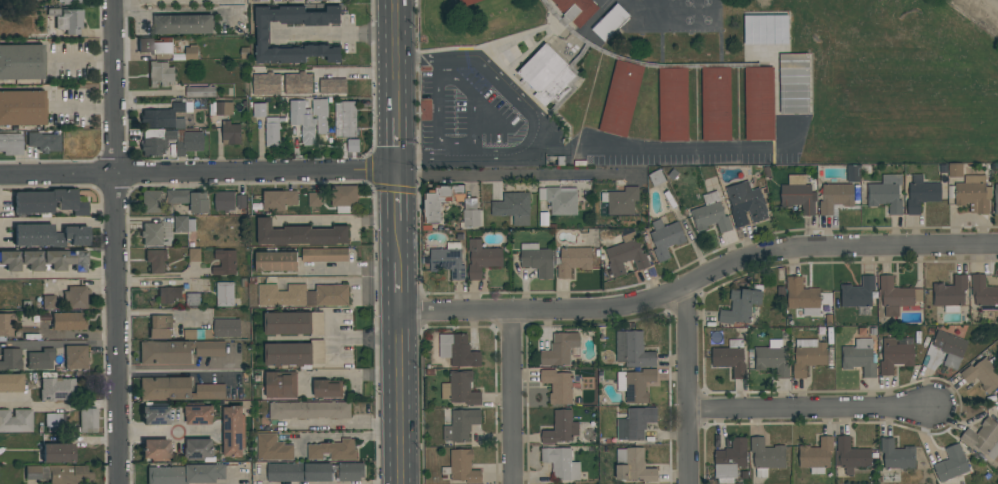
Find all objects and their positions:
road: (169, 0)
building: (259, 0)
building: (287, 0)
building: (318, 0)
building: (71, 2)
building: (467, 2)
building: (576, 10)
road: (181, 12)
building: (67, 20)
building: (183, 24)
road: (384, 30)
building: (766, 30)
road: (328, 33)
building: (263, 35)
building: (155, 45)
building: (191, 52)
road: (81, 59)
road: (395, 60)
building: (21, 62)
building: (160, 74)
building: (546, 74)
building: (266, 84)
building: (298, 84)
building: (793, 84)
building: (332, 86)
road: (406, 88)
building: (200, 92)
building: (621, 98)
building: (759, 103)
building: (672, 104)
building: (716, 104)
road: (82, 106)
building: (21, 107)
building: (221, 109)
building: (259, 110)
building: (165, 116)
road: (385, 116)
road: (538, 116)
building: (309, 118)
building: (345, 119)
building: (231, 133)
building: (272, 133)
building: (42, 141)
building: (156, 141)
building: (188, 142)
building: (10, 144)
building: (353, 145)
road: (663, 147)
building: (955, 170)
building: (852, 173)
road: (193, 174)
road: (397, 174)
road: (526, 176)
building: (886, 193)
building: (798, 194)
building: (921, 194)
building: (973, 194)
road: (407, 196)
building: (343, 197)
building: (835, 197)
building: (189, 199)
building: (996, 199)
building: (224, 200)
building: (278, 200)
building: (314, 200)
building: (559, 200)
building: (47, 201)
building: (151, 201)
building: (440, 201)
building: (621, 201)
building: (746, 203)
building: (513, 208)
building: (471, 214)
building: (711, 214)
road: (387, 217)
road: (397, 219)
road: (332, 220)
road: (57, 222)
building: (183, 224)
building: (151, 234)
building: (299, 234)
building: (49, 235)
building: (665, 238)
road: (115, 242)
building: (325, 255)
building: (626, 255)
building: (482, 258)
building: (43, 260)
building: (276, 260)
building: (448, 260)
building: (537, 260)
building: (155, 261)
building: (572, 261)
building: (225, 262)
road: (61, 276)
road: (335, 280)
road: (694, 286)
road: (387, 287)
building: (857, 293)
building: (984, 293)
building: (168, 294)
building: (225, 294)
building: (950, 294)
building: (303, 295)
road: (397, 296)
building: (896, 296)
building: (75, 297)
building: (802, 297)
building: (192, 299)
building: (48, 302)
building: (741, 305)
road: (158, 313)
building: (68, 322)
building: (293, 323)
building: (6, 324)
building: (161, 327)
building: (226, 328)
building: (197, 334)
road: (70, 336)
road: (370, 340)
building: (950, 348)
road: (409, 349)
building: (560, 349)
building: (458, 350)
building: (633, 350)
building: (177, 351)
building: (294, 354)
building: (896, 354)
building: (808, 356)
building: (75, 357)
building: (860, 357)
building: (730, 358)
building: (772, 358)
building: (10, 359)
building: (40, 359)
road: (172, 371)
road: (353, 374)
building: (982, 374)
building: (10, 383)
building: (281, 385)
building: (635, 385)
building: (558, 386)
road: (690, 386)
building: (460, 388)
building: (56, 389)
building: (178, 389)
building: (327, 389)
road: (389, 397)
road: (512, 397)
road: (58, 405)
road: (813, 409)
building: (309, 410)
building: (154, 415)
building: (199, 415)
building: (54, 420)
building: (87, 420)
building: (15, 421)
building: (636, 423)
road: (337, 425)
building: (461, 425)
building: (561, 428)
building: (234, 431)
road: (143, 432)
building: (983, 438)
building: (273, 448)
building: (154, 450)
building: (199, 450)
building: (333, 450)
building: (57, 453)
building: (851, 455)
building: (766, 456)
building: (816, 456)
building: (896, 459)
building: (730, 460)
building: (561, 464)
building: (951, 464)
building: (633, 466)
building: (463, 467)
building: (351, 471)
building: (300, 472)
building: (58, 474)
building: (185, 474)

